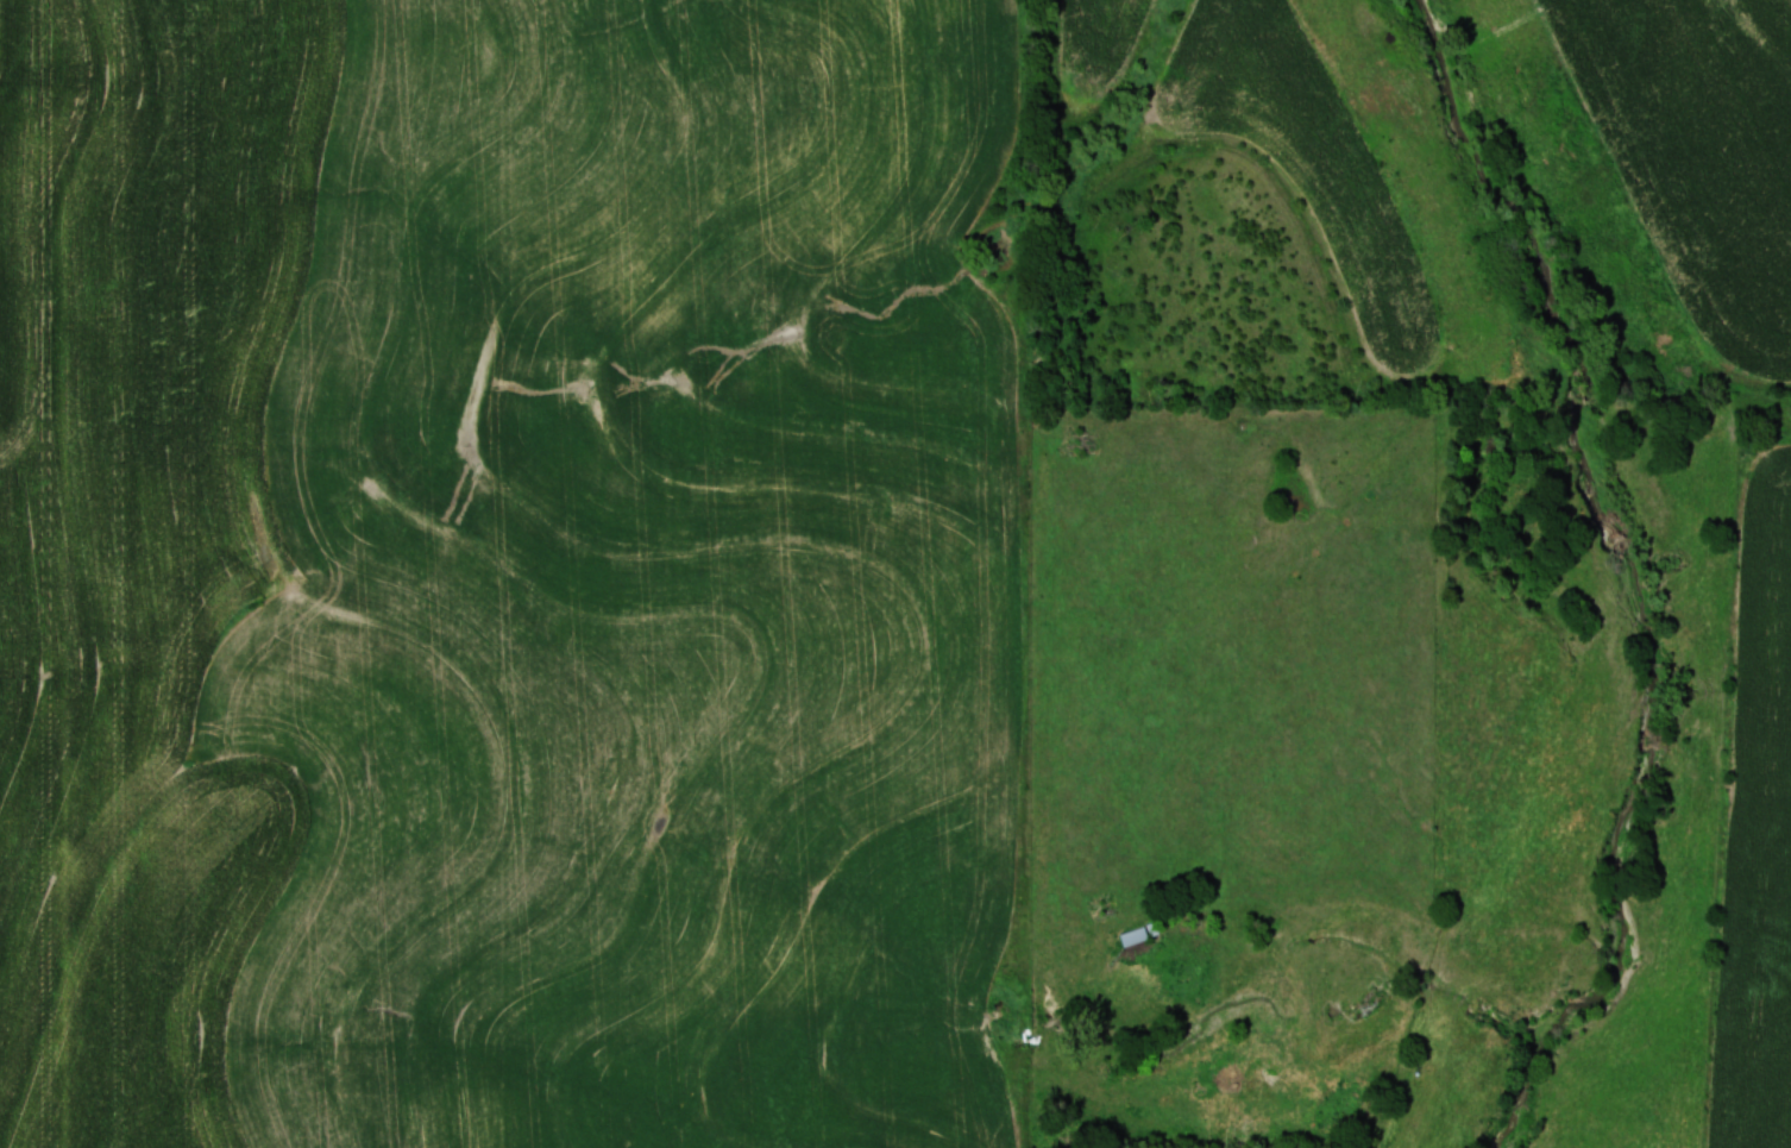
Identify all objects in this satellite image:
building: (1133, 937)

